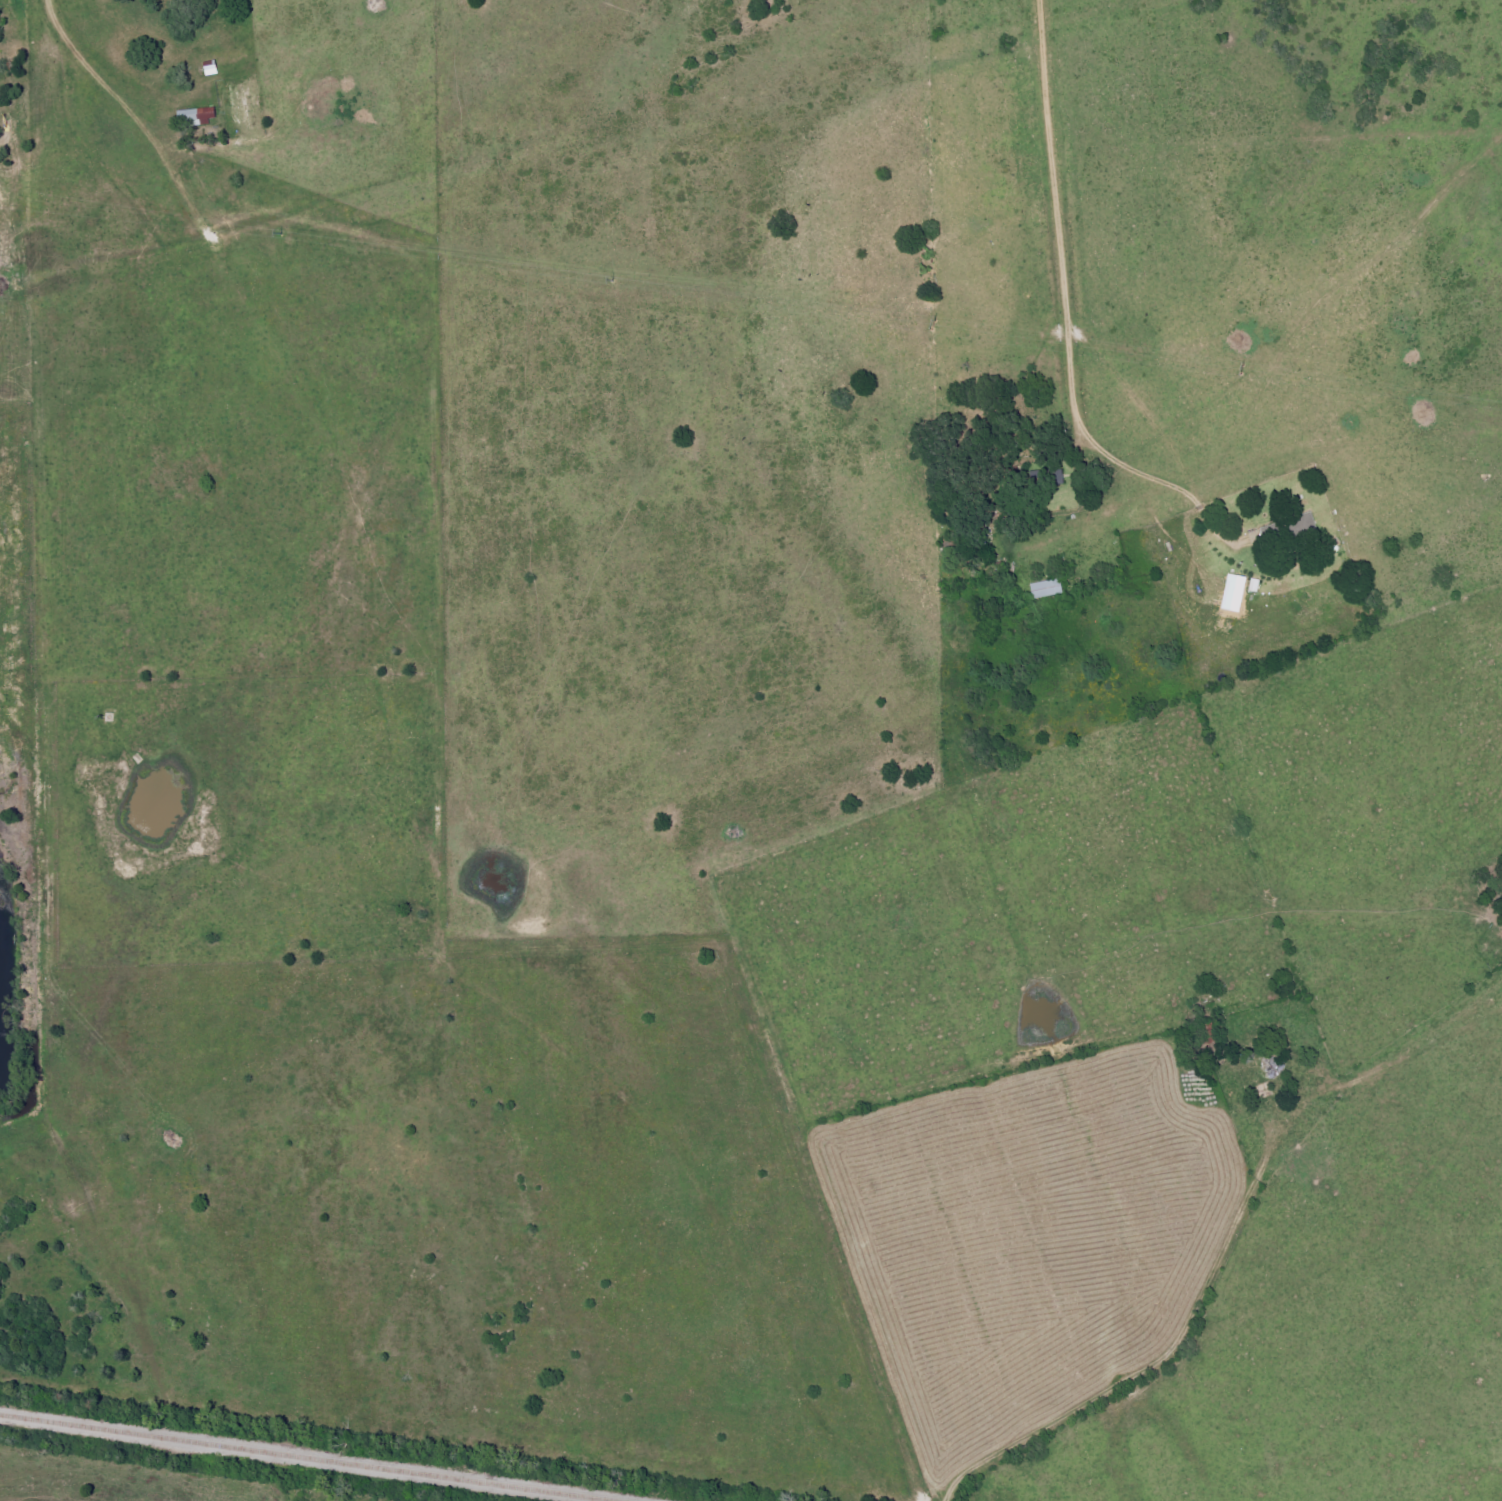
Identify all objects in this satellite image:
building: (198, 116)
power tower: (291, 231)
power tower: (606, 279)
road: (1066, 313)
power tower: (938, 323)
power tower: (1230, 364)
building: (1305, 525)
building: (1048, 589)
building: (1236, 593)
road: (1226, 1244)
railway: (304, 1457)

